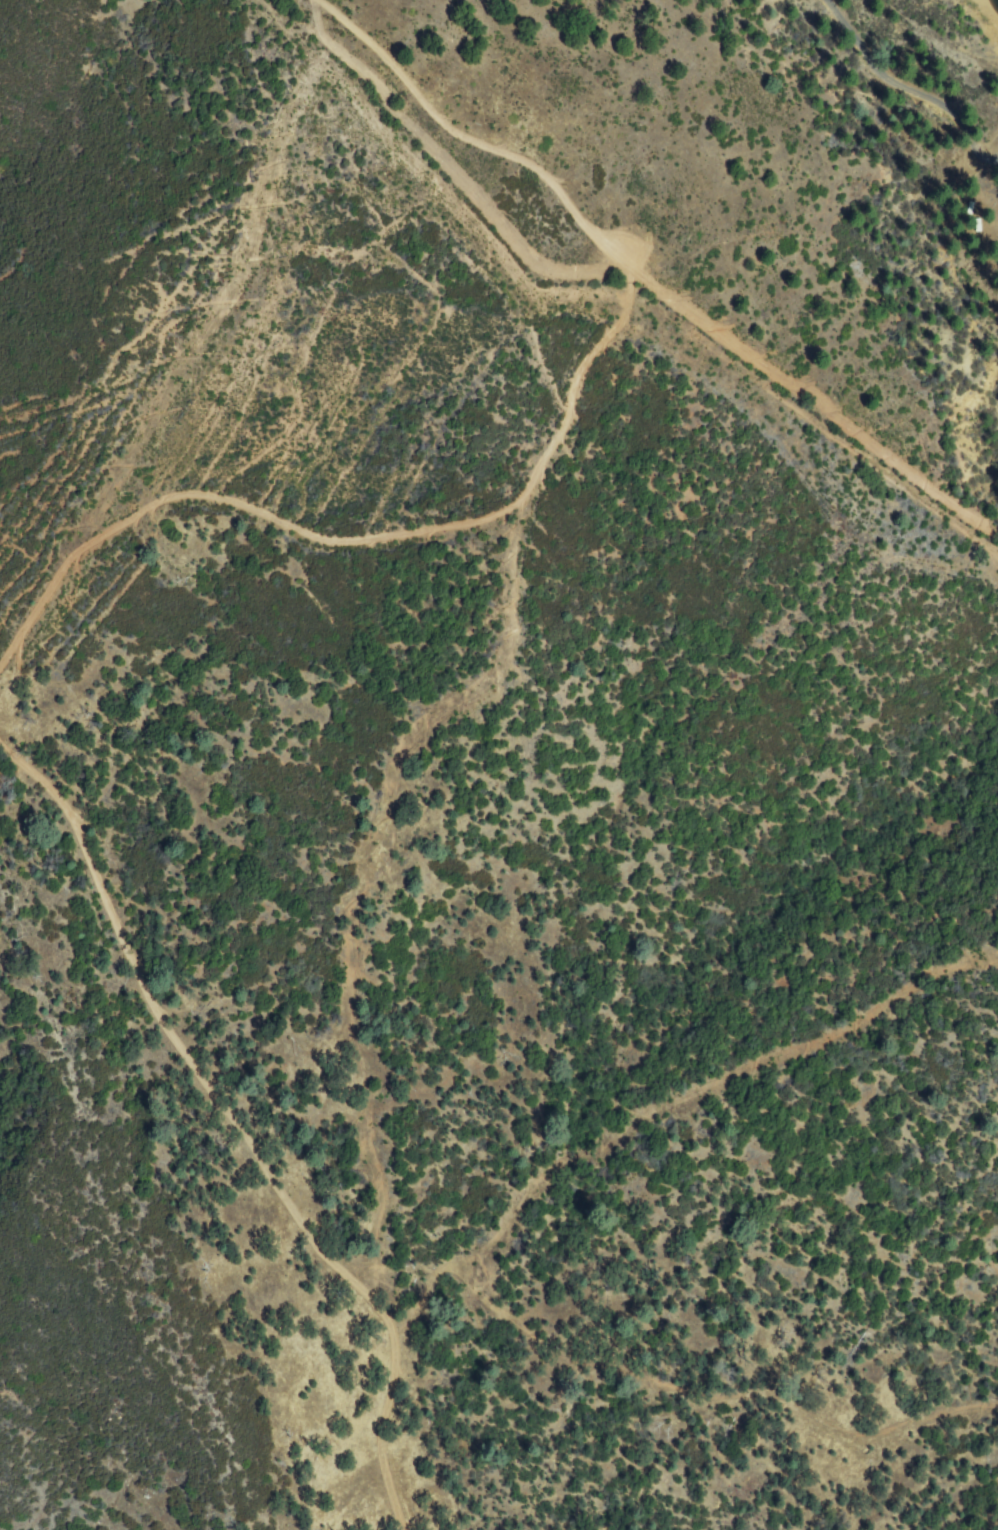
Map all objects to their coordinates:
road: (913, 87)
road: (480, 135)
road: (355, 538)
road: (239, 1126)

